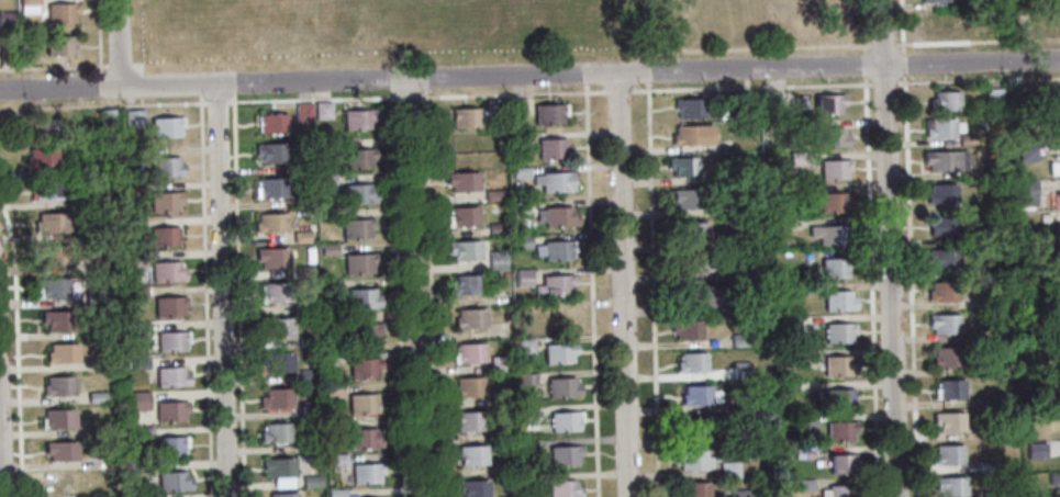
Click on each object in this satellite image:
building: (935, 1)
building: (29, 2)
building: (27, 10)
building: (62, 13)
building: (7, 19)
building: (935, 23)
road: (902, 24)
road: (863, 25)
road: (643, 26)
park: (369, 31)
road: (977, 41)
road: (99, 44)
road: (119, 44)
road: (882, 44)
building: (59, 45)
road: (757, 47)
building: (7, 55)
building: (24, 55)
road: (644, 56)
road: (903, 63)
road: (120, 64)
road: (54, 66)
road: (136, 66)
road: (644, 70)
road: (529, 76)
road: (587, 79)
road: (979, 80)
road: (141, 82)
road: (885, 82)
road: (427, 83)
road: (751, 87)
road: (618, 91)
road: (513, 93)
building: (993, 95)
road: (409, 97)
road: (142, 99)
road: (311, 99)
building: (744, 101)
building: (774, 101)
building: (944, 101)
road: (215, 102)
road: (102, 104)
building: (828, 104)
building: (493, 108)
building: (516, 108)
building: (689, 108)
building: (322, 111)
building: (302, 112)
building: (548, 113)
building: (133, 117)
building: (465, 117)
building: (107, 118)
building: (357, 120)
building: (1046, 120)
building: (272, 124)
building: (166, 126)
building: (942, 128)
building: (53, 129)
building: (691, 135)
building: (832, 137)
building: (518, 139)
building: (325, 145)
building: (553, 149)
building: (271, 153)
building: (134, 154)
building: (1026, 154)
building: (42, 158)
building: (795, 158)
building: (357, 159)
building: (945, 160)
building: (301, 167)
building: (683, 167)
building: (166, 168)
building: (1053, 168)
building: (74, 169)
building: (834, 170)
building: (994, 170)
building: (520, 173)
building: (718, 178)
building: (326, 181)
building: (462, 181)
building: (554, 182)
building: (270, 189)
building: (46, 191)
building: (794, 191)
building: (1027, 193)
building: (357, 194)
building: (941, 194)
building: (493, 195)
building: (687, 199)
building: (1059, 199)
building: (164, 201)
building: (301, 201)
building: (829, 203)
building: (737, 208)
building: (327, 215)
building: (559, 216)
building: (464, 217)
building: (1044, 217)
building: (51, 223)
building: (270, 224)
building: (135, 225)
building: (945, 226)
building: (357, 228)
building: (495, 228)
building: (693, 233)
building: (828, 235)
building: (164, 237)
building: (302, 237)
building: (746, 238)
building: (523, 241)
road: (889, 248)
building: (328, 250)
building: (465, 250)
building: (554, 250)
building: (1047, 250)
building: (54, 255)
building: (272, 258)
building: (946, 259)
building: (496, 260)
building: (135, 261)
building: (359, 263)
building: (100, 266)
building: (694, 266)
building: (835, 268)
building: (988, 270)
building: (303, 272)
building: (167, 273)
building: (745, 273)
road: (871, 274)
building: (504, 275)
building: (523, 278)
building: (467, 285)
building: (554, 285)
road: (621, 285)
building: (331, 286)
road: (911, 286)
building: (53, 287)
road: (414, 287)
road: (592, 290)
road: (651, 290)
building: (796, 290)
road: (222, 291)
building: (135, 292)
building: (942, 292)
road: (433, 293)
building: (275, 294)
road: (398, 296)
building: (100, 297)
building: (992, 297)
road: (237, 298)
building: (695, 298)
road: (205, 300)
building: (362, 300)
building: (838, 301)
building: (170, 306)
building: (305, 307)
building: (747, 308)
building: (470, 318)
building: (558, 318)
building: (58, 320)
building: (332, 320)
building: (788, 323)
building: (945, 325)
building: (277, 329)
building: (687, 330)
building: (137, 331)
building: (839, 331)
building: (360, 334)
building: (305, 340)
building: (738, 340)
building: (172, 342)
road: (18, 346)
building: (525, 347)
building: (1050, 348)
building: (63, 353)
building: (470, 353)
building: (558, 353)
building: (793, 357)
building: (948, 358)
building: (277, 362)
building: (140, 363)
building: (692, 363)
building: (107, 364)
building: (500, 364)
building: (837, 366)
building: (988, 368)
building: (364, 369)
building: (740, 371)
building: (306, 376)
building: (171, 377)
building: (526, 379)
building: (1051, 382)
building: (59, 386)
building: (469, 387)
building: (562, 388)
building: (333, 389)
building: (950, 389)
building: (699, 396)
building: (97, 397)
building: (277, 398)
building: (1000, 399)
building: (141, 400)
building: (835, 400)
building: (362, 404)
building: (744, 404)
building: (760, 405)
building: (311, 408)
building: (171, 411)
building: (1049, 413)
building: (527, 415)
building: (57, 419)
building: (806, 420)
building: (468, 421)
building: (565, 421)
building: (948, 422)
building: (335, 426)
building: (692, 427)
building: (104, 431)
building: (839, 431)
building: (277, 433)
building: (143, 436)
building: (739, 438)
building: (364, 440)
building: (170, 447)
building: (311, 447)
building: (62, 451)
building: (1035, 451)
building: (802, 452)
building: (472, 455)
building: (565, 455)
building: (949, 455)
building: (336, 460)
building: (692, 460)
building: (843, 465)
building: (986, 466)
building: (145, 467)
building: (279, 467)
building: (505, 468)
building: (728, 470)
building: (366, 473)
road: (0, 476)
building: (1053, 478)
building: (282, 482)
building: (311, 482)
building: (68, 483)
building: (174, 483)
building: (805, 485)
building: (950, 486)
building: (473, 488)
building: (562, 489)
building: (694, 490)
building: (839, 492)
building: (336, 493)
building: (739, 494)
building: (991, 494)
building: (283, 495)
building: (145, 496)
building: (509, 496)

